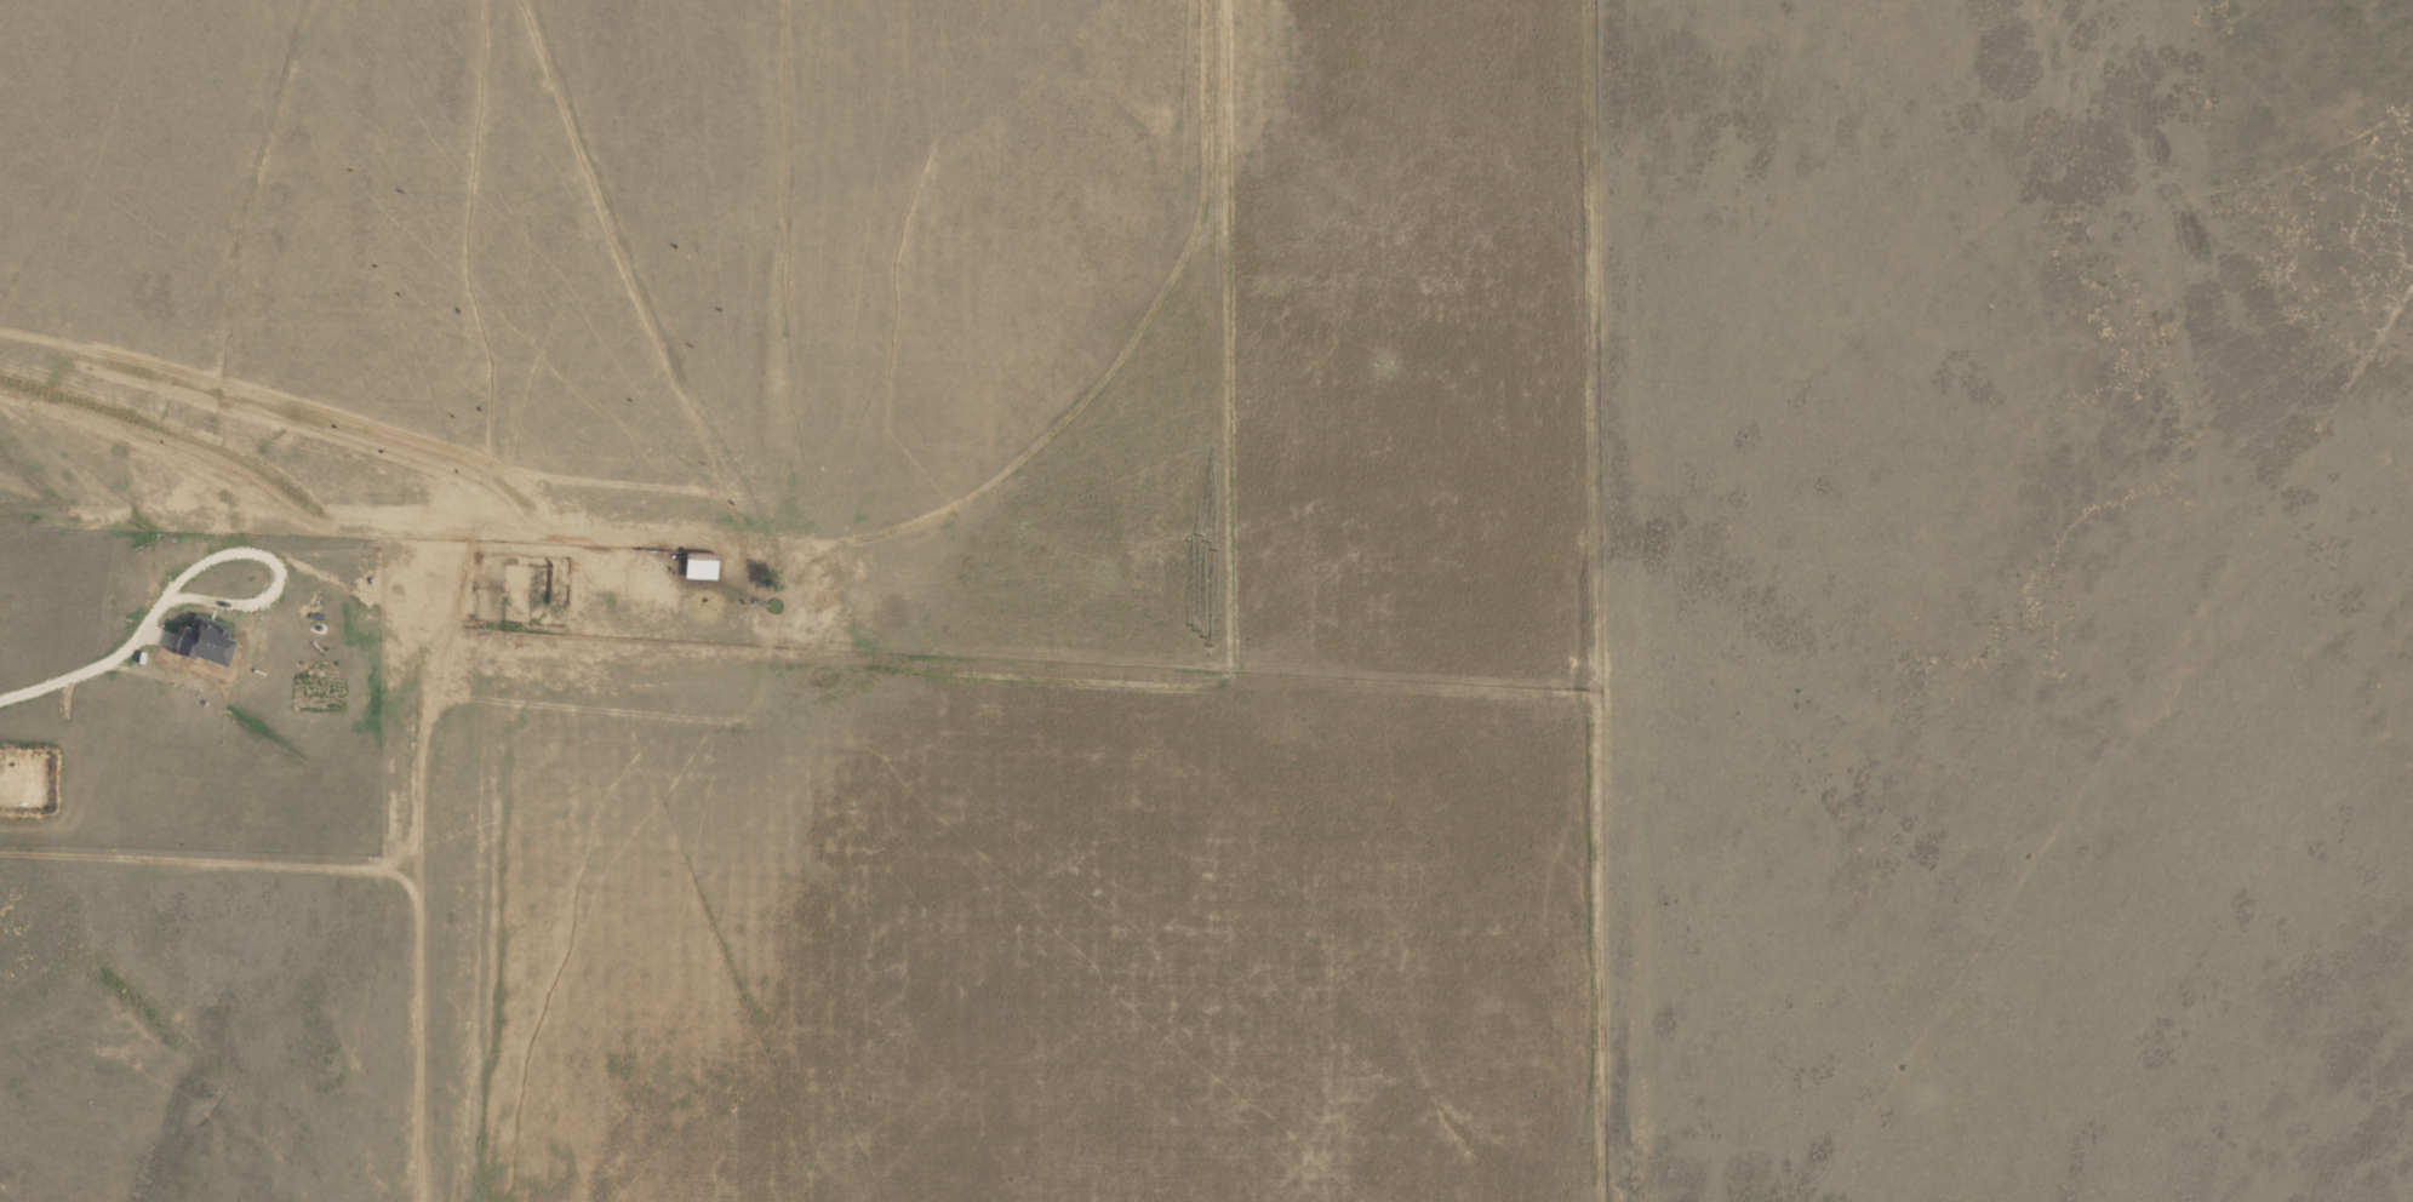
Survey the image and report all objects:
road: (360, 429)

